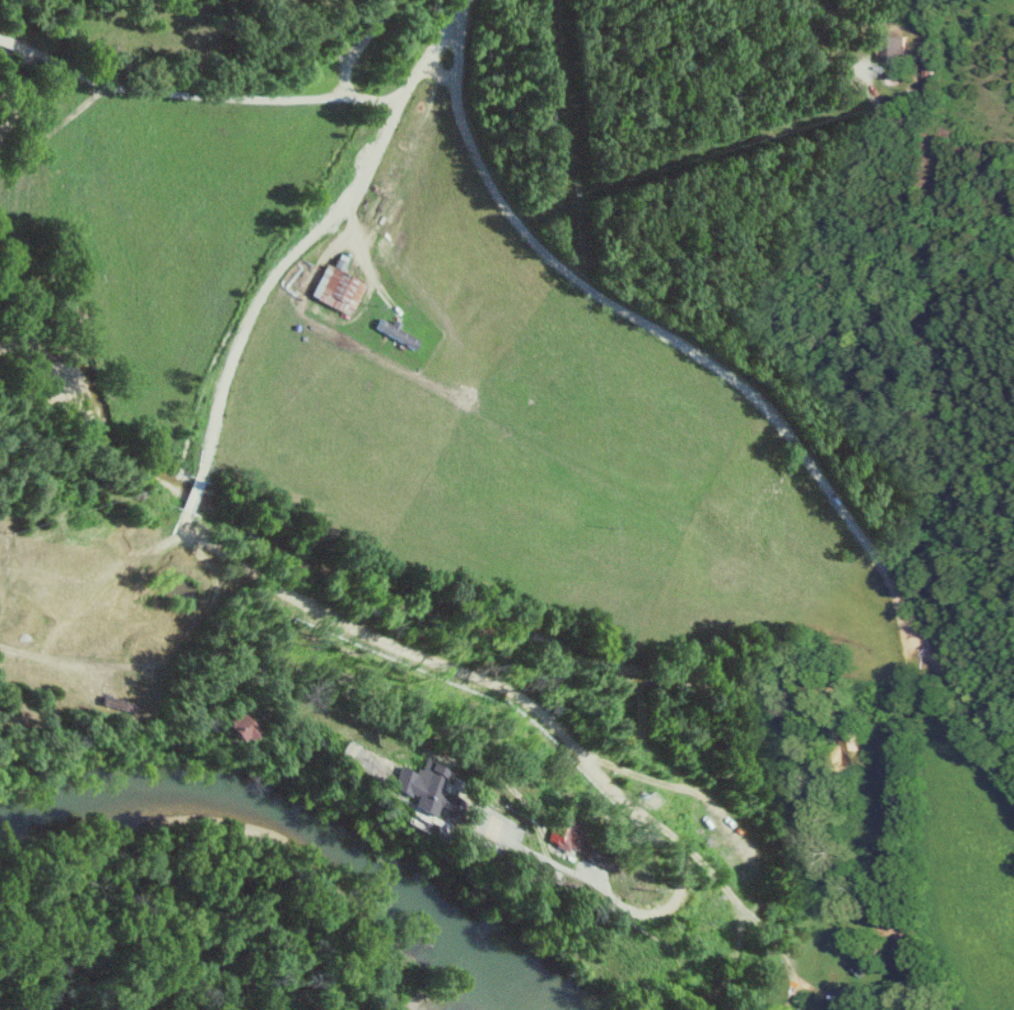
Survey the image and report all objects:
road: (450, 32)
road: (358, 45)
building: (894, 55)
road: (223, 91)
road: (274, 285)
building: (335, 288)
building: (394, 332)
road: (737, 386)
road: (514, 692)
building: (226, 727)
building: (411, 791)
river: (289, 811)
building: (556, 833)

